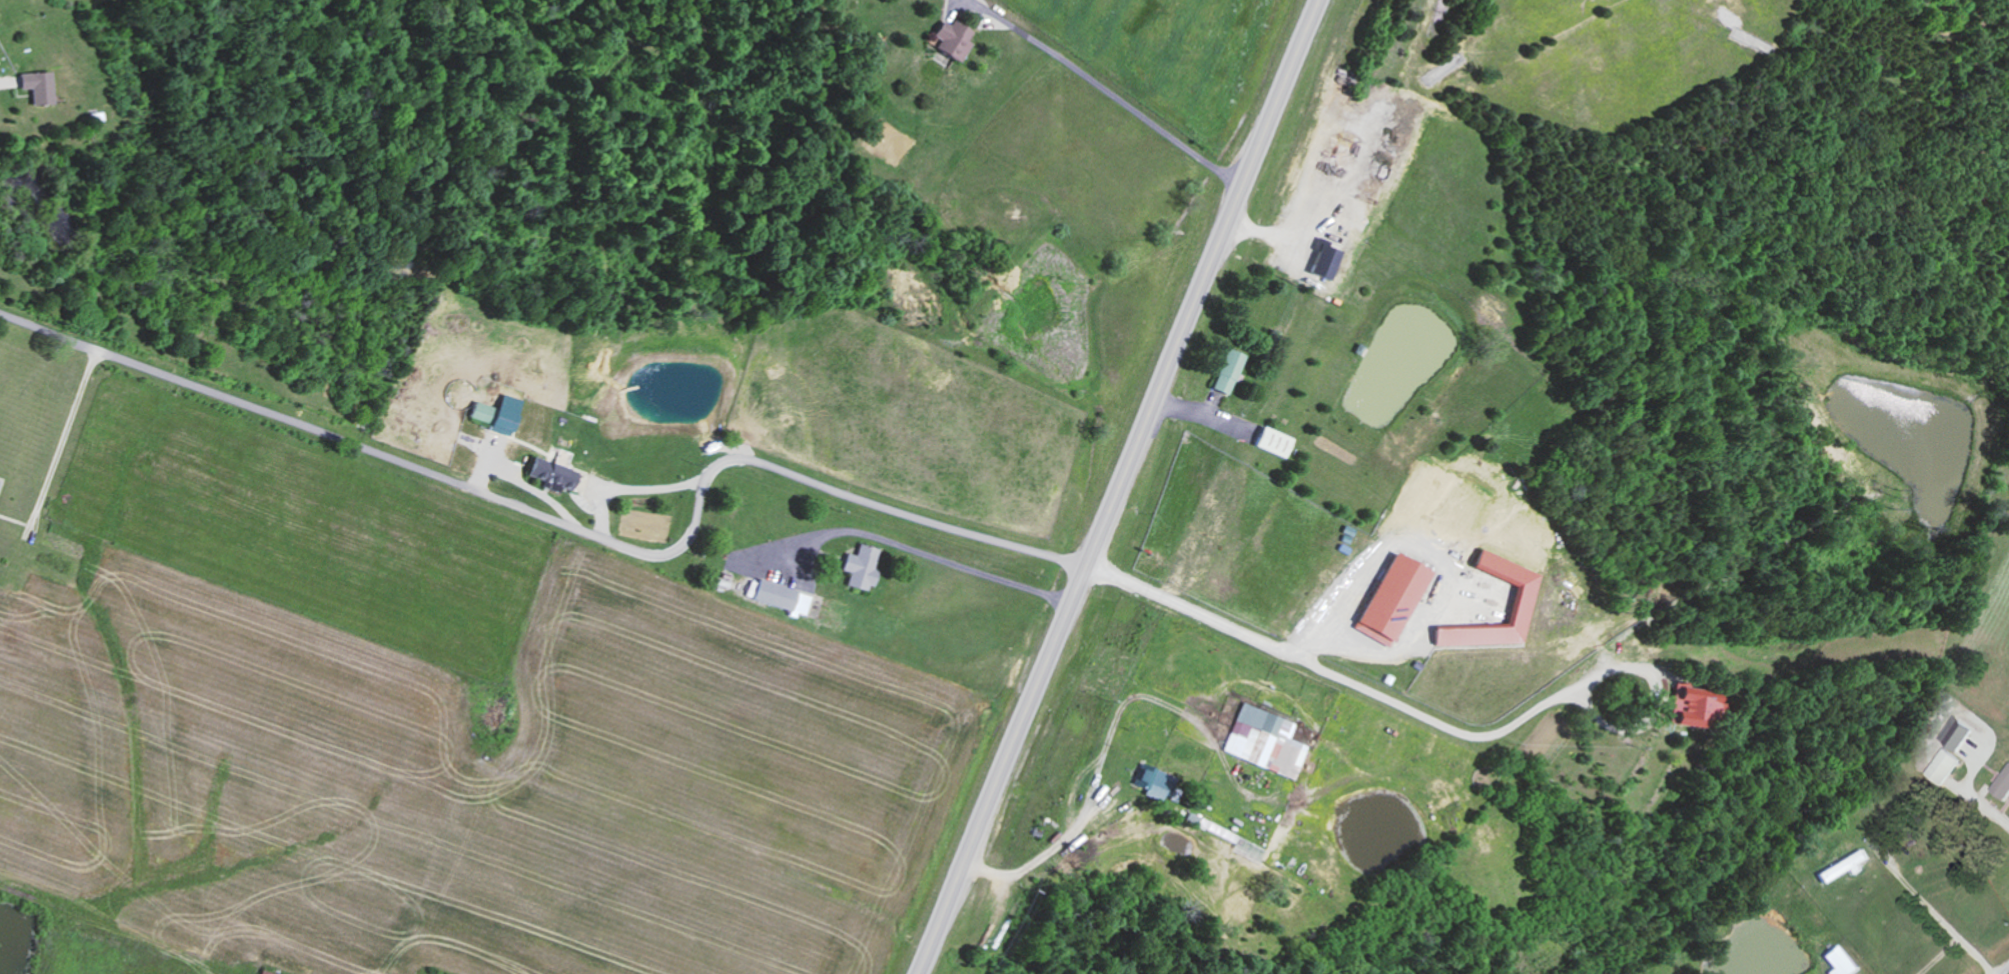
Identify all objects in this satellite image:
building: (952, 40)
building: (36, 88)
road: (1105, 89)
building: (1324, 263)
building: (1228, 373)
building: (492, 417)
building: (1274, 443)
building: (550, 470)
road: (1120, 487)
road: (564, 527)
building: (861, 567)
building: (1524, 597)
building: (782, 598)
building: (1392, 599)
road: (1326, 634)
road: (1351, 682)
building: (1691, 709)
building: (1958, 734)
building: (1266, 742)
building: (1945, 767)
building: (1154, 782)
building: (2003, 786)
building: (1845, 867)
building: (1841, 962)
road: (2003, 969)

